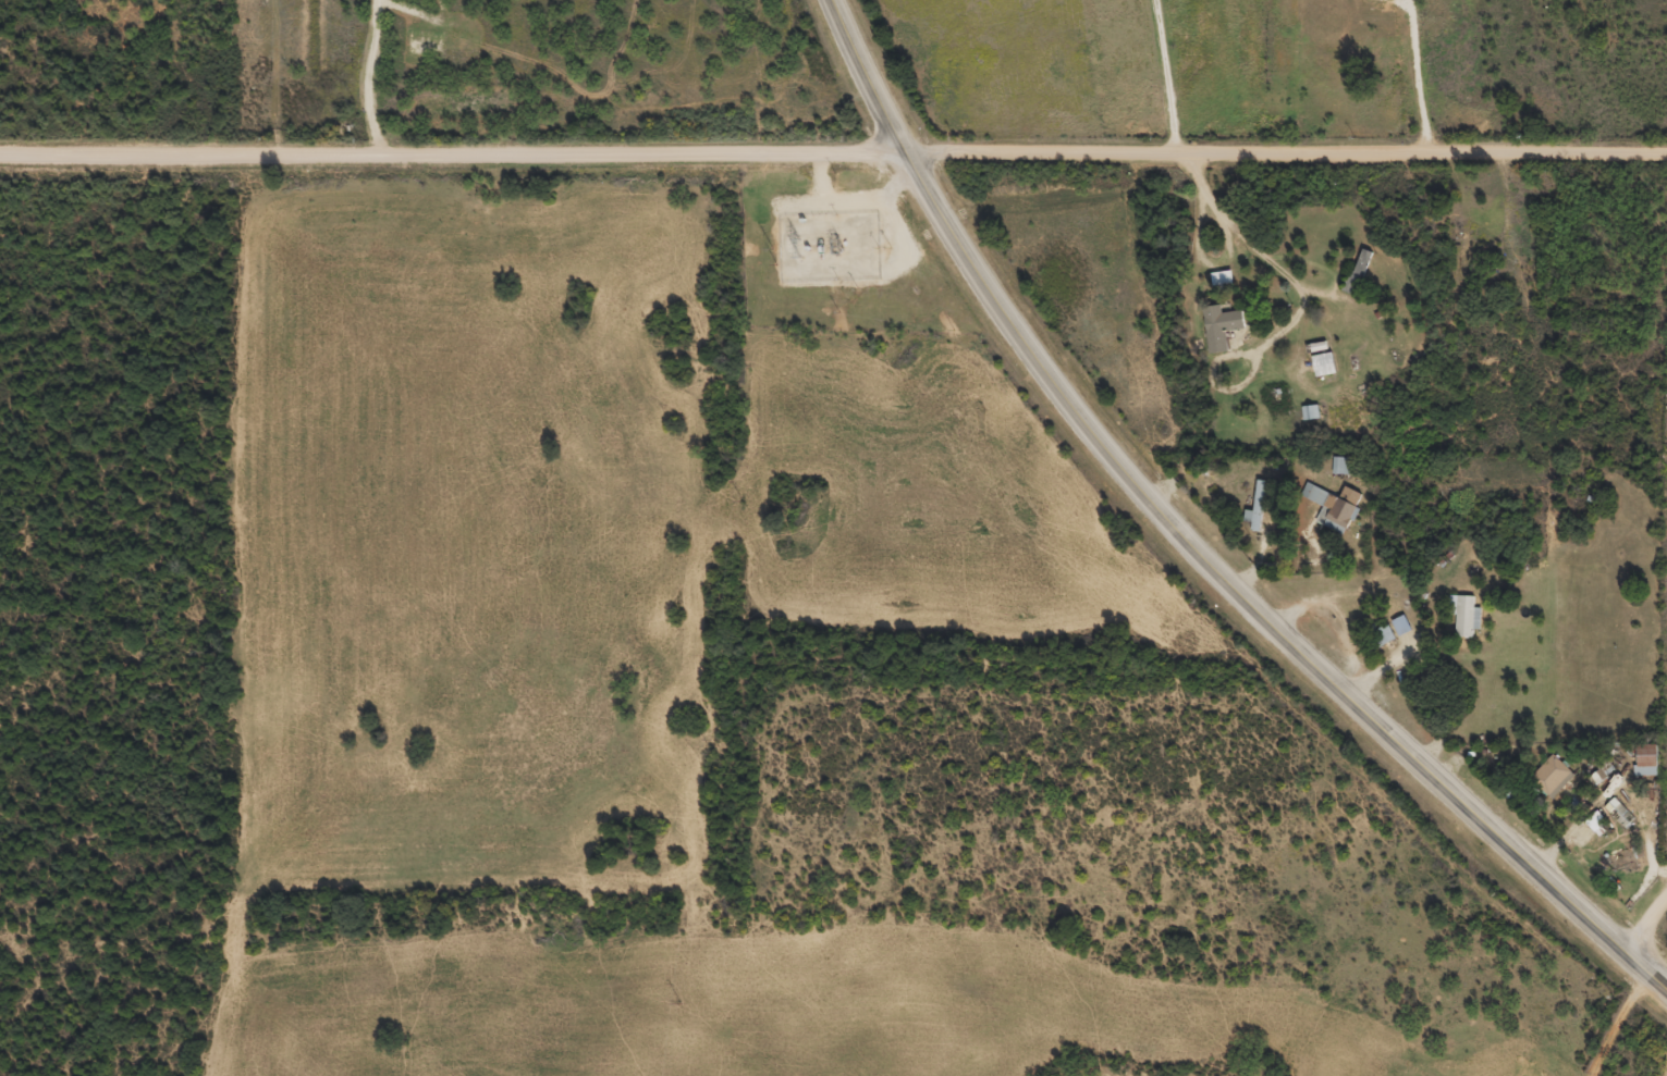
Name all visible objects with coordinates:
building: (1372, 0)
road: (1164, 74)
road: (367, 75)
road: (833, 149)
power substation: (829, 246)
building: (1356, 279)
building: (1219, 286)
building: (1217, 334)
building: (1321, 372)
building: (1309, 420)
building: (1258, 510)
building: (1332, 514)
road: (1189, 543)
building: (1462, 622)
building: (1399, 632)
building: (1382, 642)
building: (1644, 767)
building: (1550, 783)
building: (1595, 784)
building: (1611, 793)
building: (1618, 818)
building: (1595, 831)
road: (1642, 917)
road: (1616, 1025)

